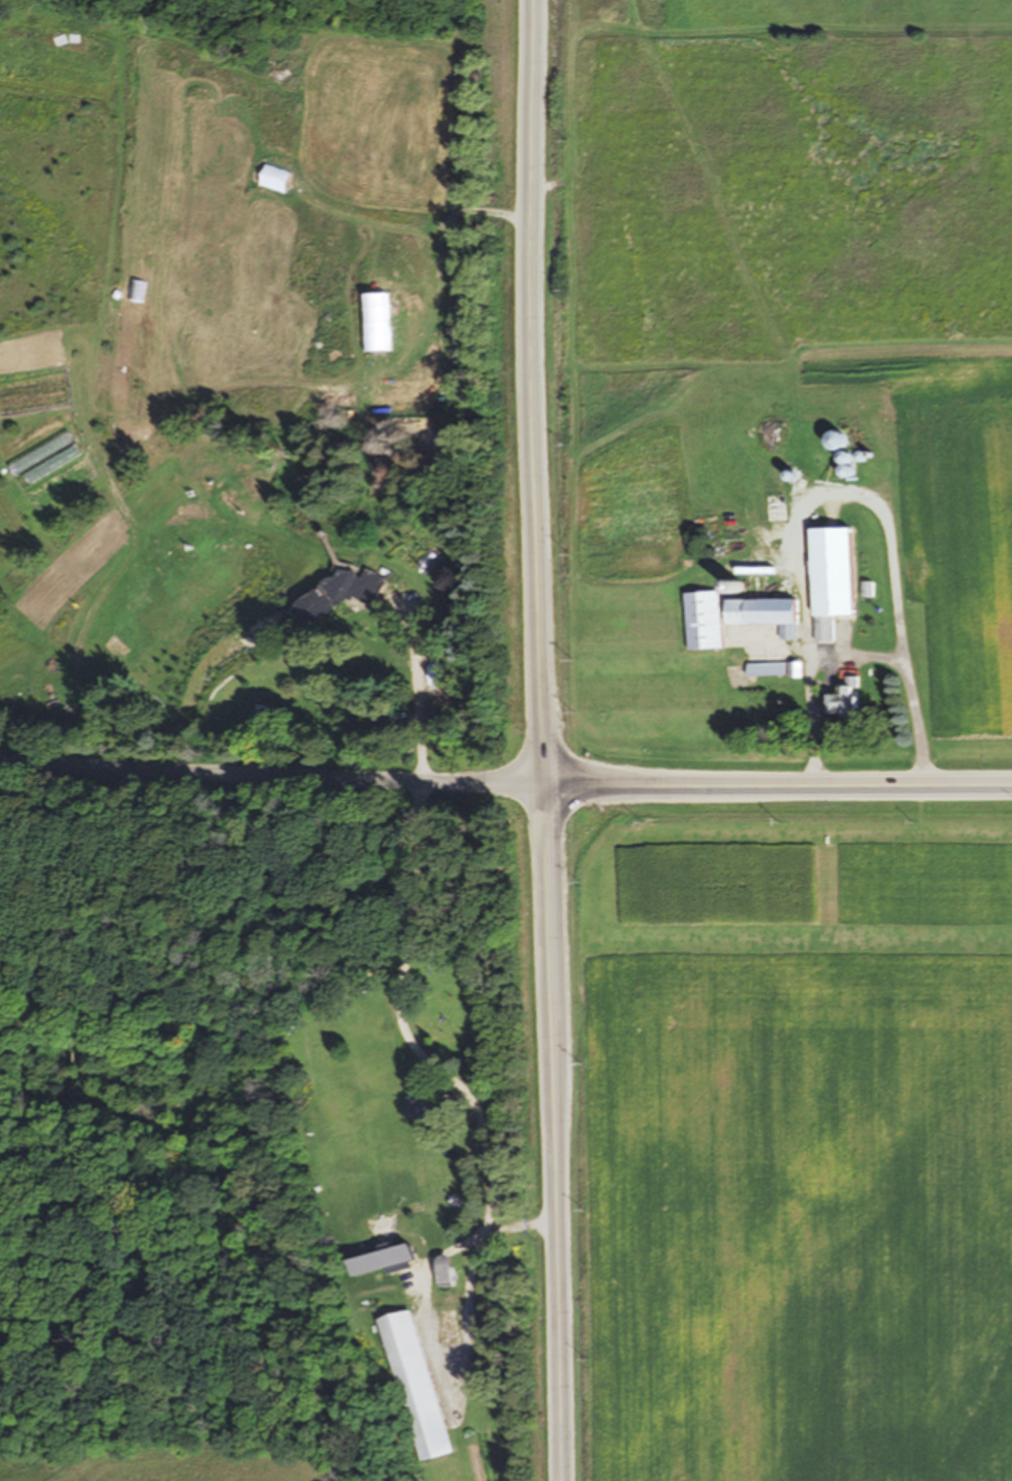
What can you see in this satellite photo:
road: (535, 389)
road: (839, 492)
building: (829, 581)
road: (92, 591)
building: (339, 596)
building: (764, 616)
building: (702, 622)
building: (757, 665)
building: (792, 672)
road: (412, 687)
building: (753, 695)
building: (841, 697)
road: (275, 769)
road: (781, 778)
road: (391, 1017)
building: (438, 1022)
building: (416, 1108)
road: (559, 1129)
building: (445, 1273)
road: (459, 1349)
building: (416, 1387)

